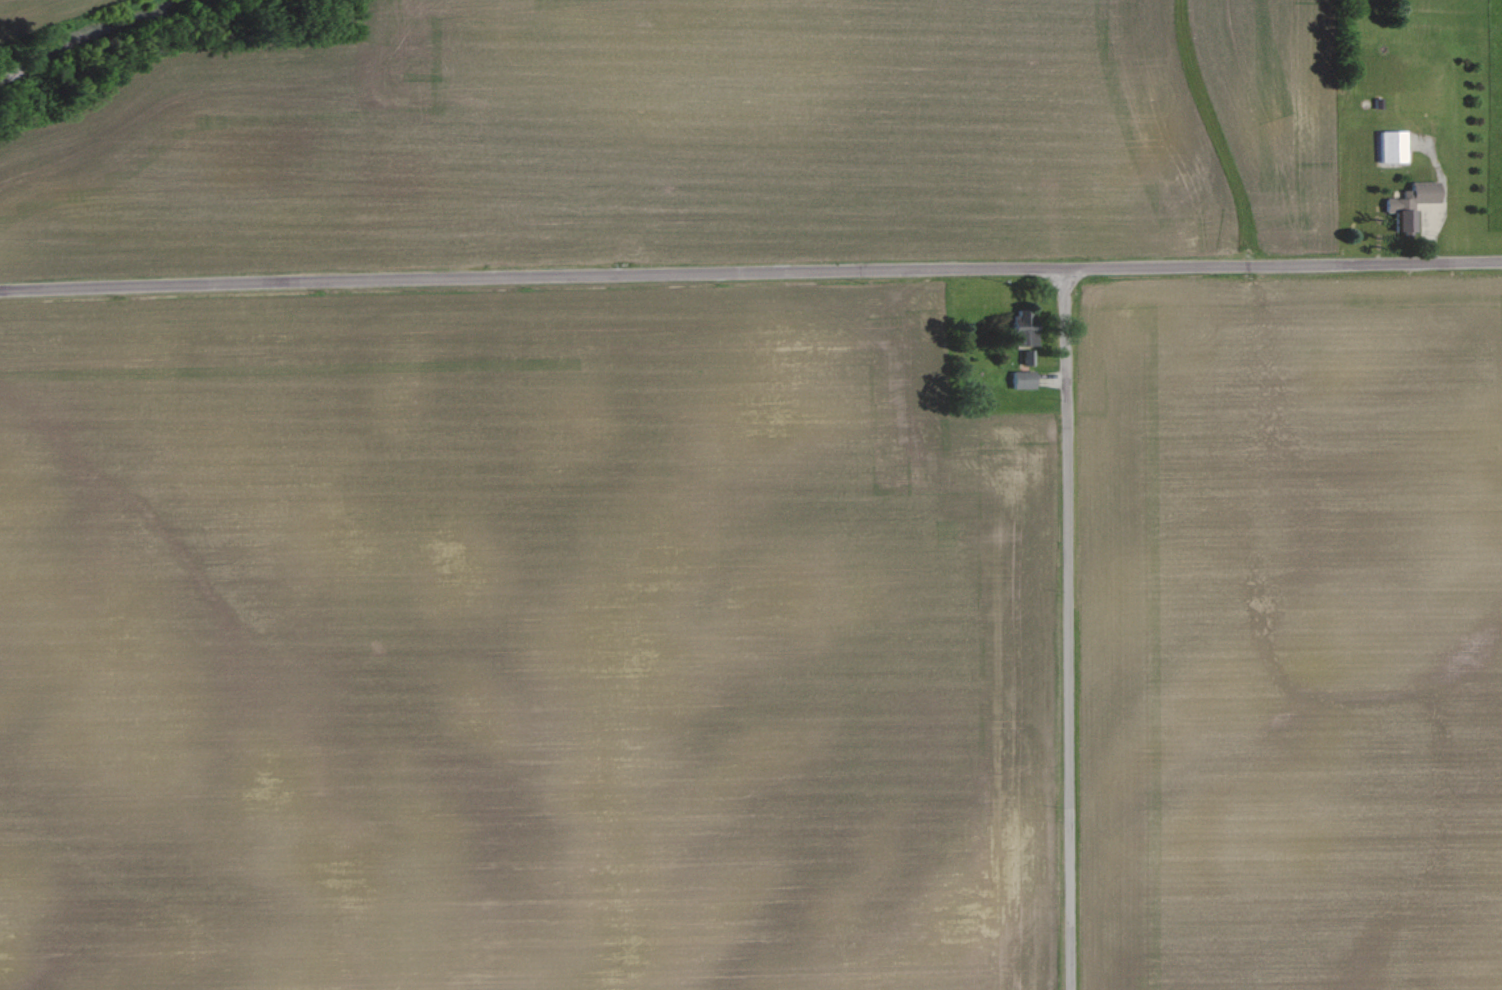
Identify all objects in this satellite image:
building: (1395, 146)
building: (1415, 202)
road: (1286, 273)
road: (535, 289)
building: (1026, 328)
building: (1029, 357)
building: (1025, 380)
road: (1070, 634)

